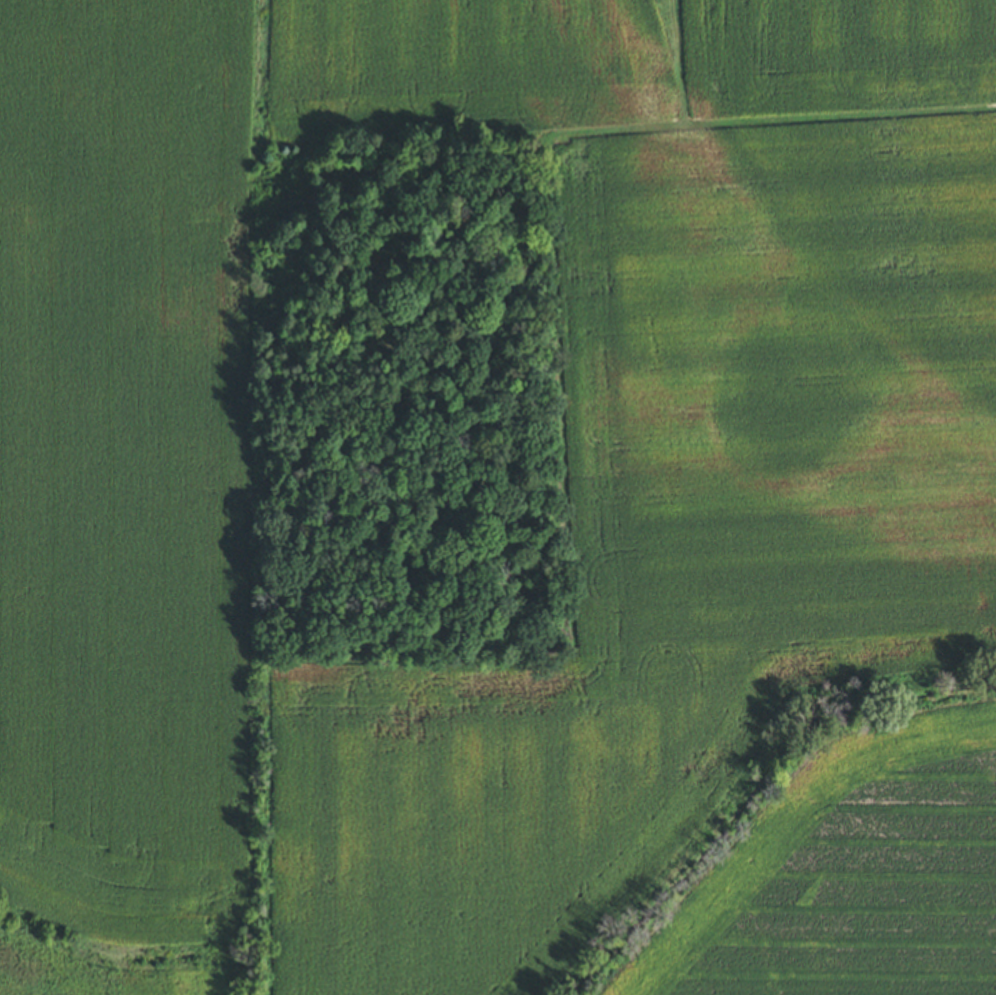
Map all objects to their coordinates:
road: (773, 122)

